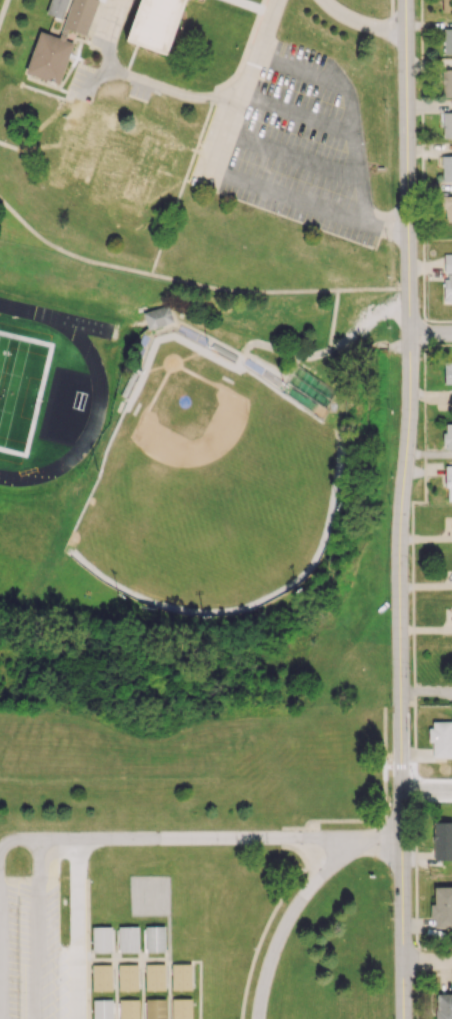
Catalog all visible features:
building: (199, 0)
building: (446, 5)
building: (57, 8)
building: (80, 17)
building: (155, 24)
road: (362, 24)
building: (447, 41)
building: (49, 58)
building: (446, 83)
road: (237, 90)
road: (349, 103)
building: (447, 125)
parking lot: (304, 148)
building: (149, 165)
building: (446, 168)
road: (306, 197)
building: (446, 208)
building: (447, 262)
building: (447, 288)
building: (159, 317)
road: (79, 325)
road: (430, 335)
building: (447, 373)
park: (21, 392)
road: (100, 395)
road: (68, 408)
building: (447, 436)
building: (448, 482)
park: (208, 490)
road: (399, 509)
building: (440, 739)
road: (427, 793)
road: (199, 839)
road: (377, 841)
building: (442, 841)
road: (7, 843)
road: (44, 850)
road: (20, 890)
park: (150, 896)
building: (442, 907)
road: (288, 922)
building: (103, 940)
building: (128, 941)
building: (155, 941)
parking lot: (28, 948)
road: (41, 954)
road: (428, 962)
building: (102, 978)
building: (128, 978)
building: (155, 978)
building: (182, 978)
building: (443, 1006)
building: (102, 1009)
building: (156, 1009)
building: (182, 1009)
building: (129, 1010)

